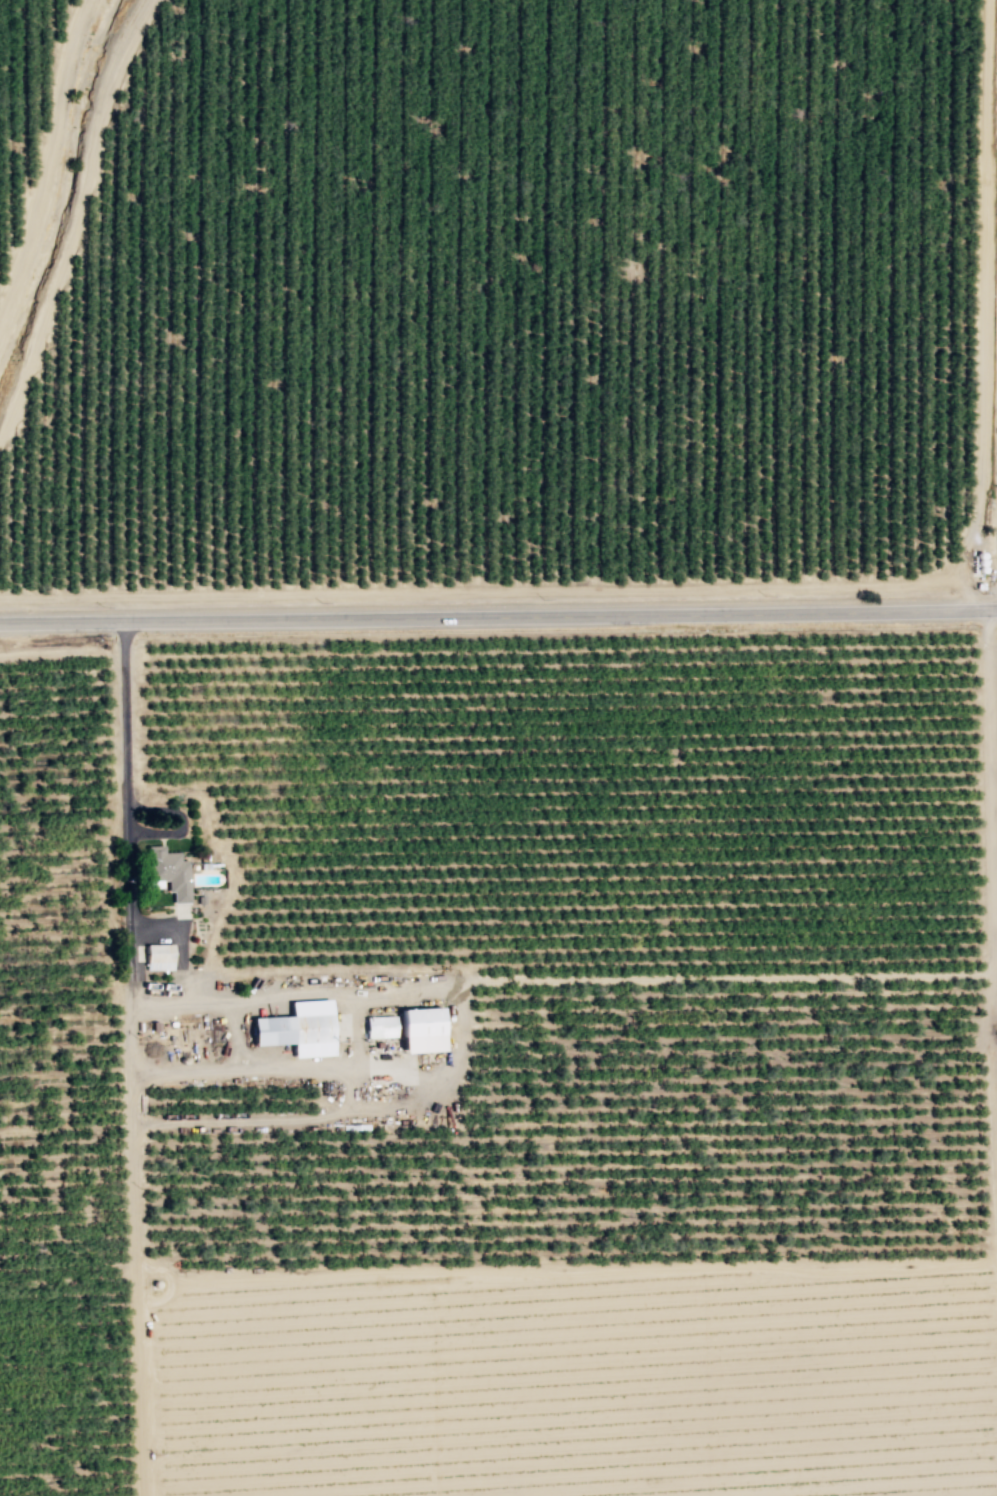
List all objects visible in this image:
road: (51, 157)
road: (73, 219)
road: (979, 307)
road: (994, 487)
road: (996, 576)
road: (479, 591)
road: (498, 619)
road: (61, 652)
road: (992, 773)
building: (175, 875)
road: (182, 919)
road: (182, 943)
road: (128, 956)
road: (673, 978)
road: (278, 996)
building: (382, 1027)
building: (302, 1028)
building: (426, 1029)
road: (238, 1034)
road: (985, 1037)
road: (133, 1096)
road: (264, 1120)
road: (582, 1268)
road: (171, 1280)
road: (140, 1308)

